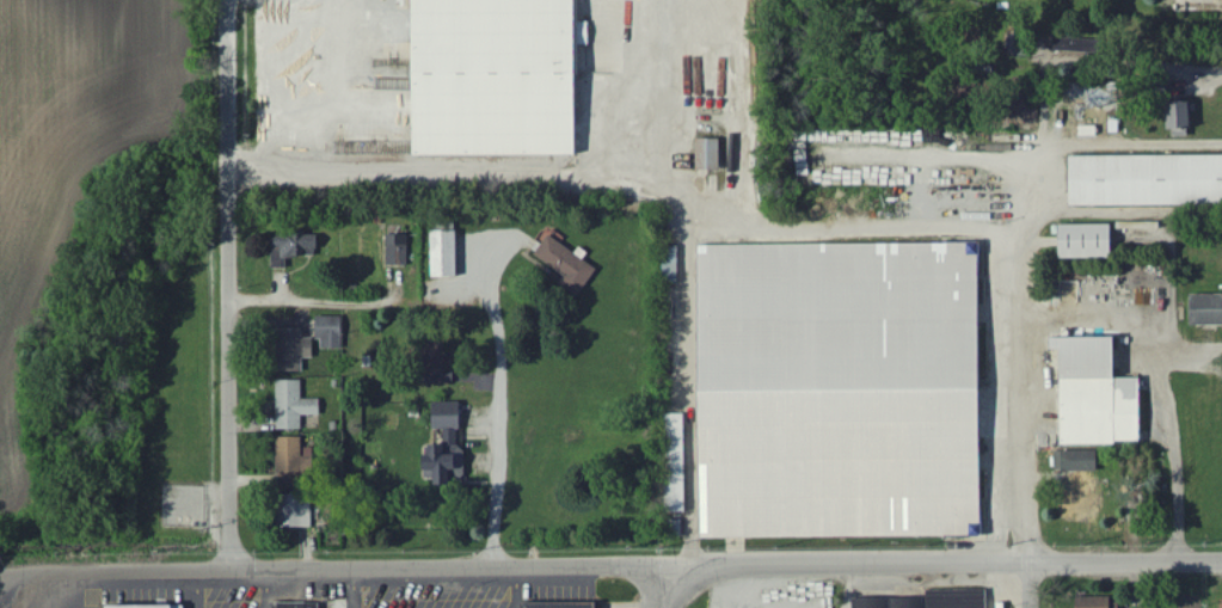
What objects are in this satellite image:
building: (1074, 44)
building: (499, 76)
road: (325, 86)
building: (1184, 113)
road: (1105, 146)
road: (931, 151)
building: (710, 154)
road: (443, 176)
building: (1148, 180)
road: (1107, 209)
road: (733, 226)
building: (1089, 240)
building: (294, 247)
building: (398, 250)
building: (447, 253)
building: (569, 265)
road: (229, 285)
road: (489, 306)
building: (1206, 309)
building: (331, 332)
building: (294, 351)
road: (1177, 356)
road: (683, 379)
road: (1156, 388)
building: (843, 391)
road: (1024, 393)
building: (1100, 393)
building: (294, 405)
building: (447, 446)
building: (290, 457)
building: (677, 462)
building: (1083, 483)
building: (294, 514)
road: (939, 563)
road: (327, 569)
road: (1031, 585)
road: (657, 586)
building: (932, 600)
building: (1100, 602)
building: (1221, 603)
building: (297, 604)
building: (578, 604)
building: (155, 607)

